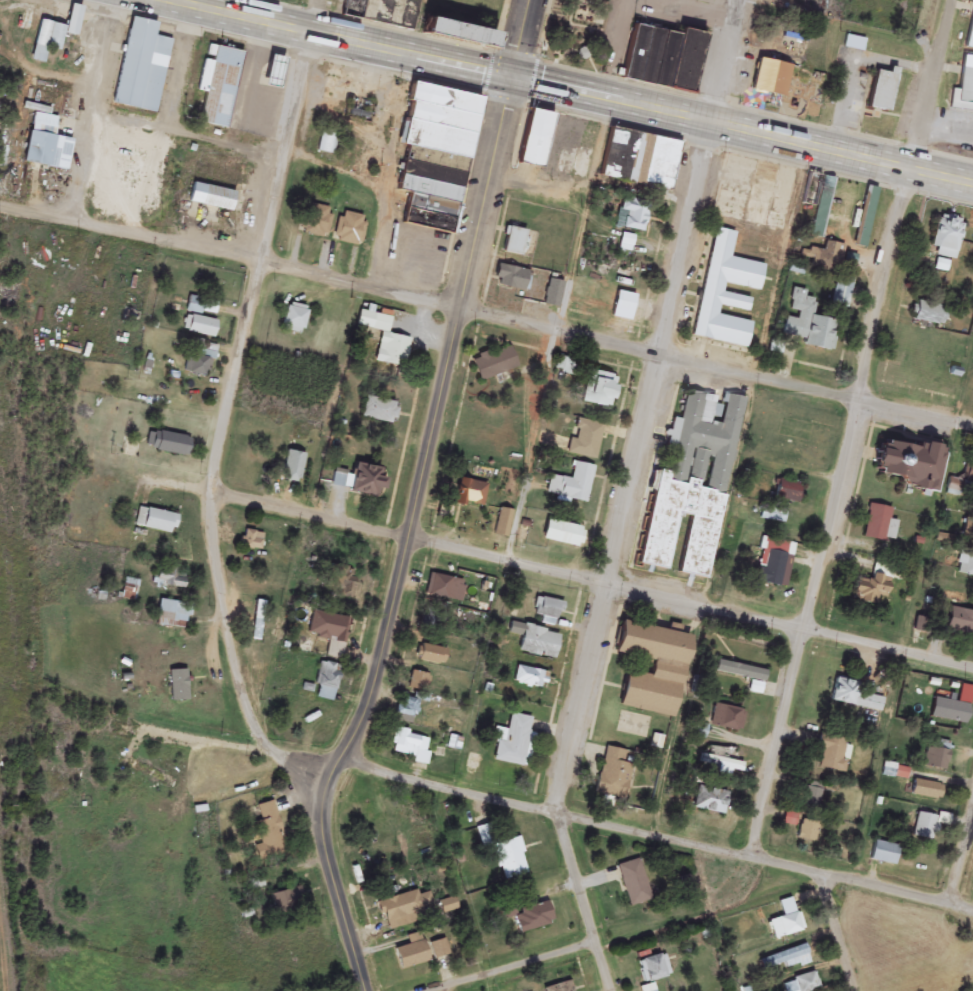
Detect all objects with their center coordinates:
building: (281, 0)
building: (398, 14)
building: (73, 21)
building: (451, 33)
building: (971, 35)
road: (524, 40)
building: (46, 41)
building: (661, 58)
building: (141, 68)
building: (272, 72)
building: (774, 74)
building: (965, 82)
building: (220, 88)
building: (887, 91)
road: (577, 94)
road: (93, 110)
building: (361, 110)
building: (437, 121)
building: (327, 142)
building: (46, 144)
building: (555, 144)
building: (2, 152)
building: (638, 159)
building: (211, 198)
building: (819, 202)
building: (633, 215)
building: (316, 222)
building: (349, 229)
building: (946, 234)
building: (513, 242)
building: (626, 243)
building: (825, 258)
building: (510, 278)
building: (842, 293)
building: (552, 294)
building: (719, 294)
building: (625, 304)
building: (202, 307)
building: (929, 313)
road: (486, 314)
building: (294, 319)
building: (808, 324)
building: (199, 327)
building: (385, 341)
building: (195, 364)
building: (494, 364)
building: (599, 390)
building: (379, 412)
road: (230, 419)
road: (853, 431)
building: (585, 441)
building: (167, 444)
building: (905, 464)
building: (293, 468)
building: (968, 475)
building: (360, 481)
building: (572, 485)
building: (692, 485)
building: (786, 492)
building: (471, 495)
road: (629, 498)
building: (775, 515)
building: (156, 522)
building: (877, 524)
building: (504, 525)
building: (561, 535)
road: (407, 538)
building: (252, 541)
building: (771, 563)
building: (966, 568)
road: (567, 574)
building: (170, 579)
building: (342, 583)
building: (439, 587)
building: (870, 590)
building: (547, 610)
building: (172, 614)
building: (258, 621)
building: (960, 623)
building: (325, 628)
building: (534, 642)
building: (707, 645)
building: (431, 656)
building: (650, 669)
building: (327, 683)
building: (854, 697)
building: (410, 704)
building: (727, 719)
building: (851, 722)
building: (514, 743)
building: (410, 746)
building: (833, 754)
building: (937, 756)
building: (615, 774)
building: (926, 791)
building: (813, 795)
building: (709, 801)
building: (803, 828)
building: (926, 828)
building: (269, 833)
road: (660, 839)
building: (504, 854)
building: (884, 854)
road: (964, 874)
building: (634, 884)
building: (286, 900)
building: (448, 907)
building: (402, 910)
road: (712, 913)
railway: (5, 917)
building: (532, 919)
building: (786, 926)
road: (840, 933)
building: (439, 950)
building: (411, 954)
building: (784, 958)
building: (654, 969)
road: (527, 971)
building: (807, 983)
building: (561, 988)
building: (649, 989)

